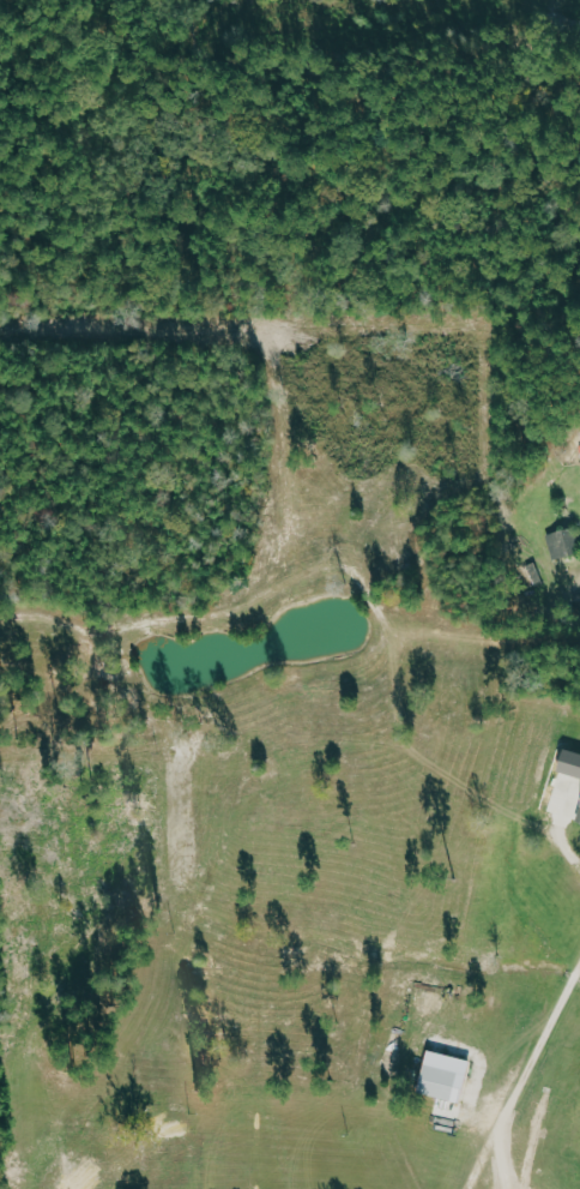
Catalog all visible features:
building: (564, 542)
building: (579, 823)
road: (561, 834)
building: (442, 1076)
road: (526, 1076)

